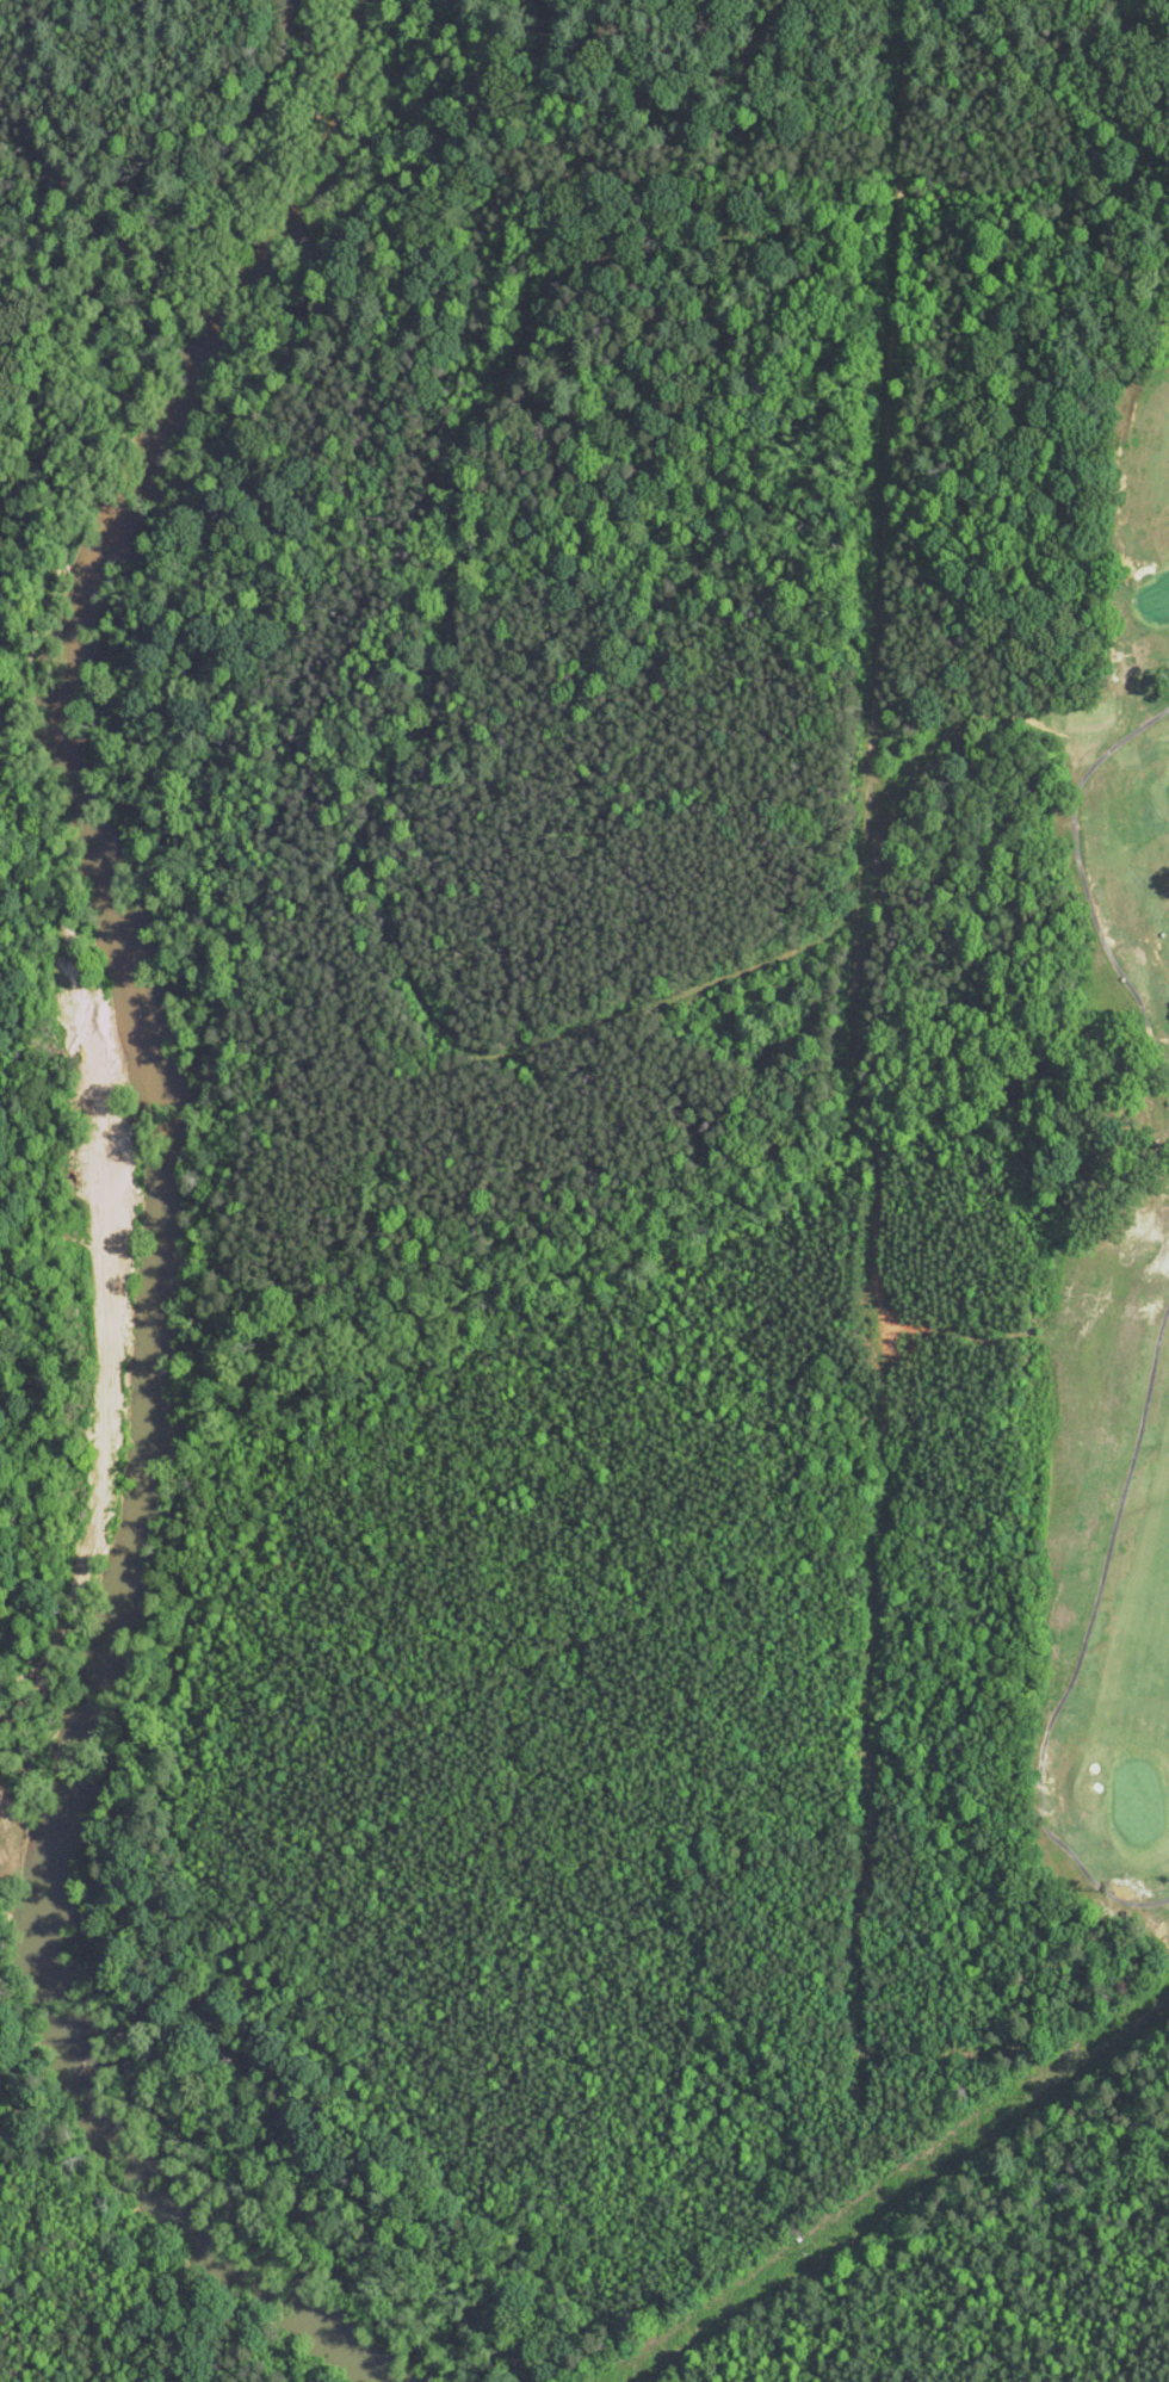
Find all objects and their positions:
river: (297, 194)
river: (177, 412)
river: (107, 515)
road: (1082, 873)
river: (188, 1198)
park: (1091, 1305)
road: (1083, 1642)
river: (120, 2153)

